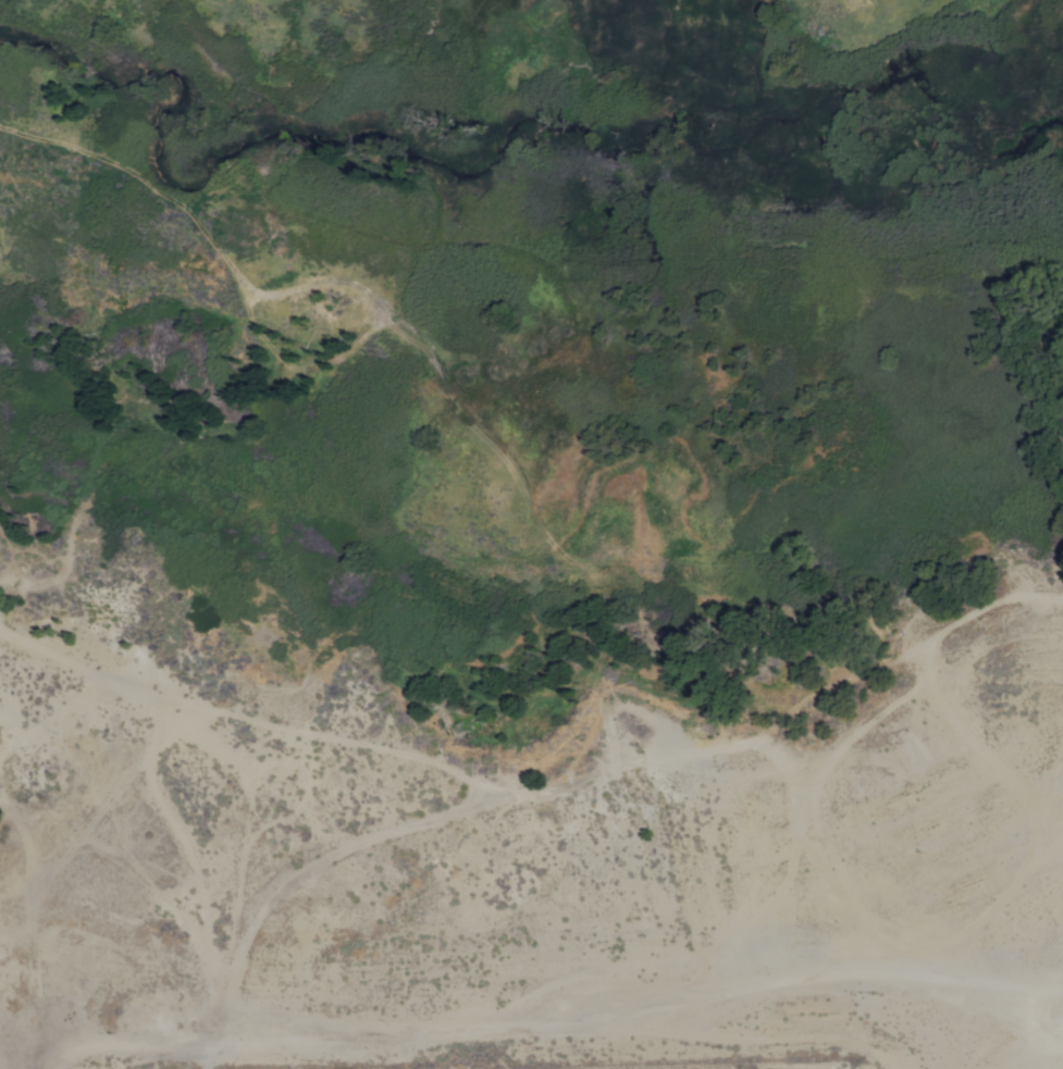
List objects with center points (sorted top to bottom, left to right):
road: (252, 716)
road: (588, 772)
road: (553, 1017)
airport: (663, 1062)

